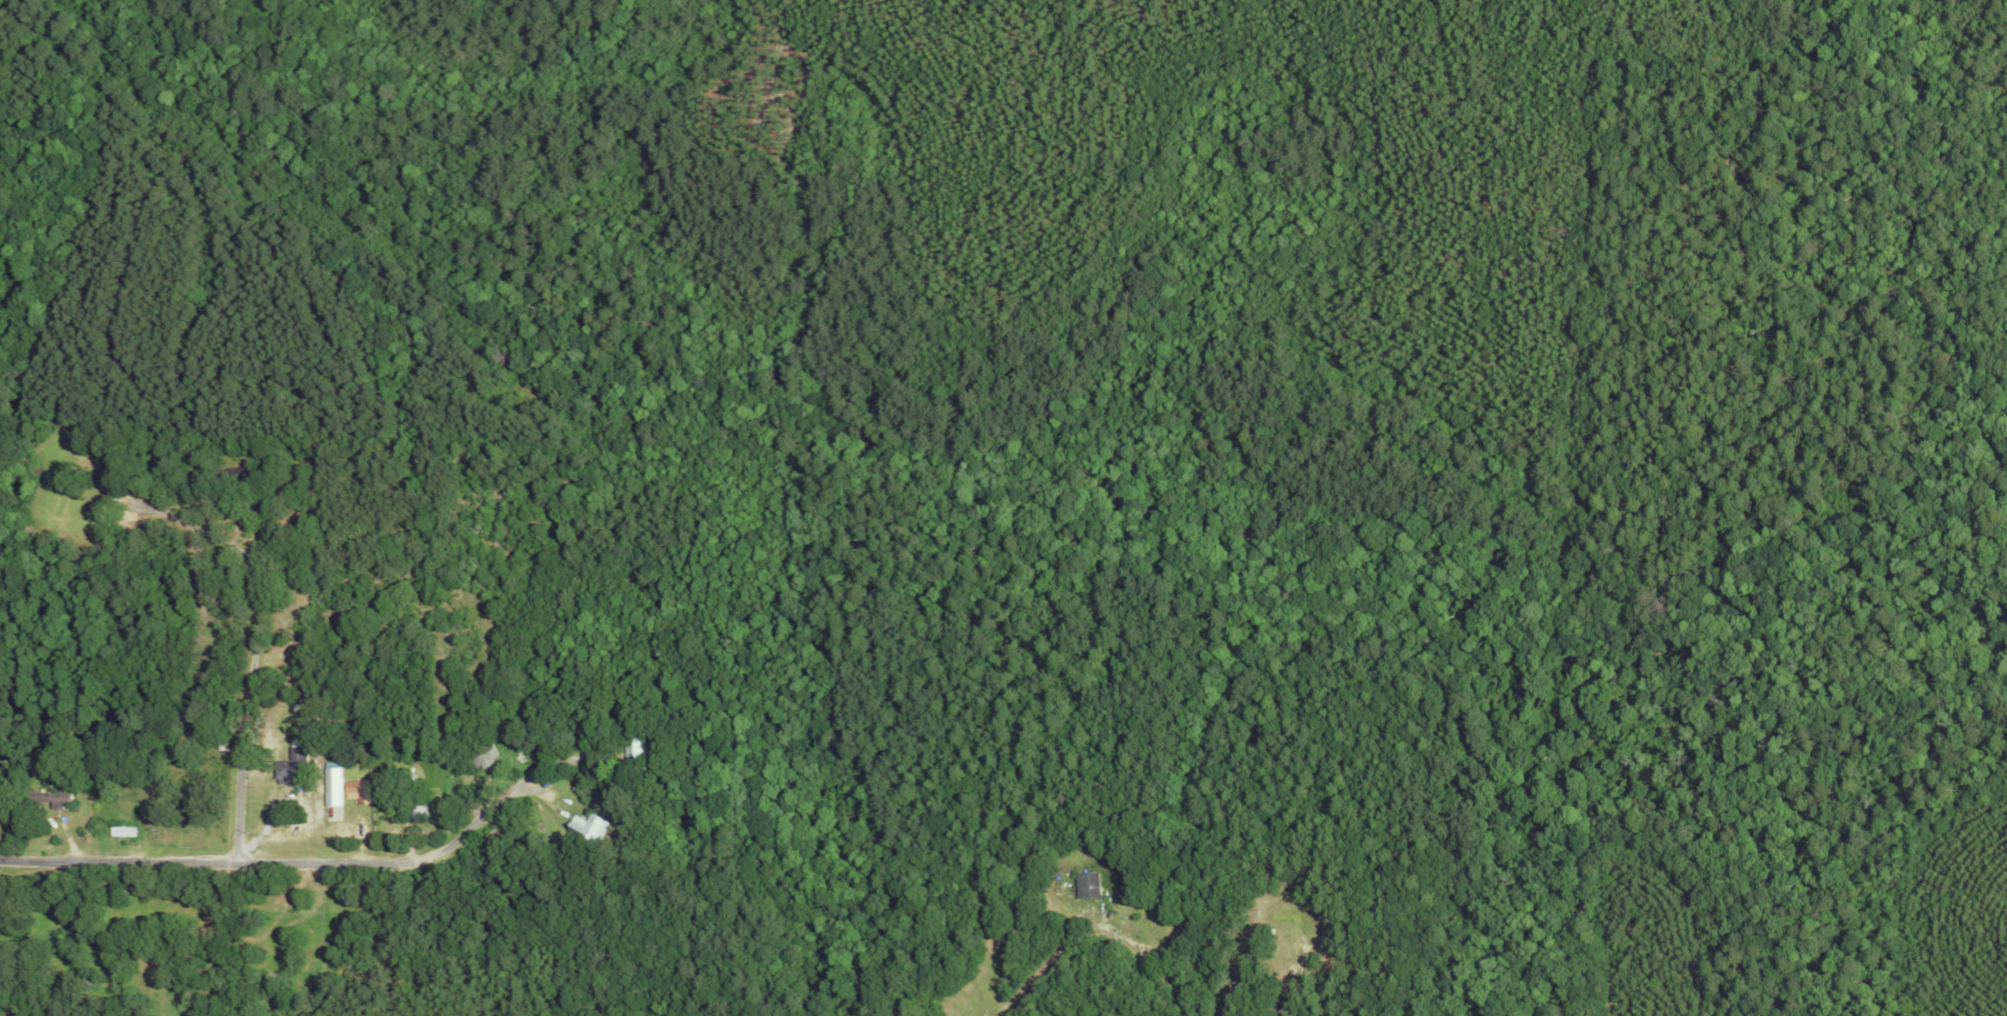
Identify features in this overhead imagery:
road: (252, 652)
building: (287, 767)
building: (329, 786)
building: (351, 787)
building: (60, 799)
building: (123, 831)
road: (296, 863)
building: (1087, 885)
road: (1169, 953)

